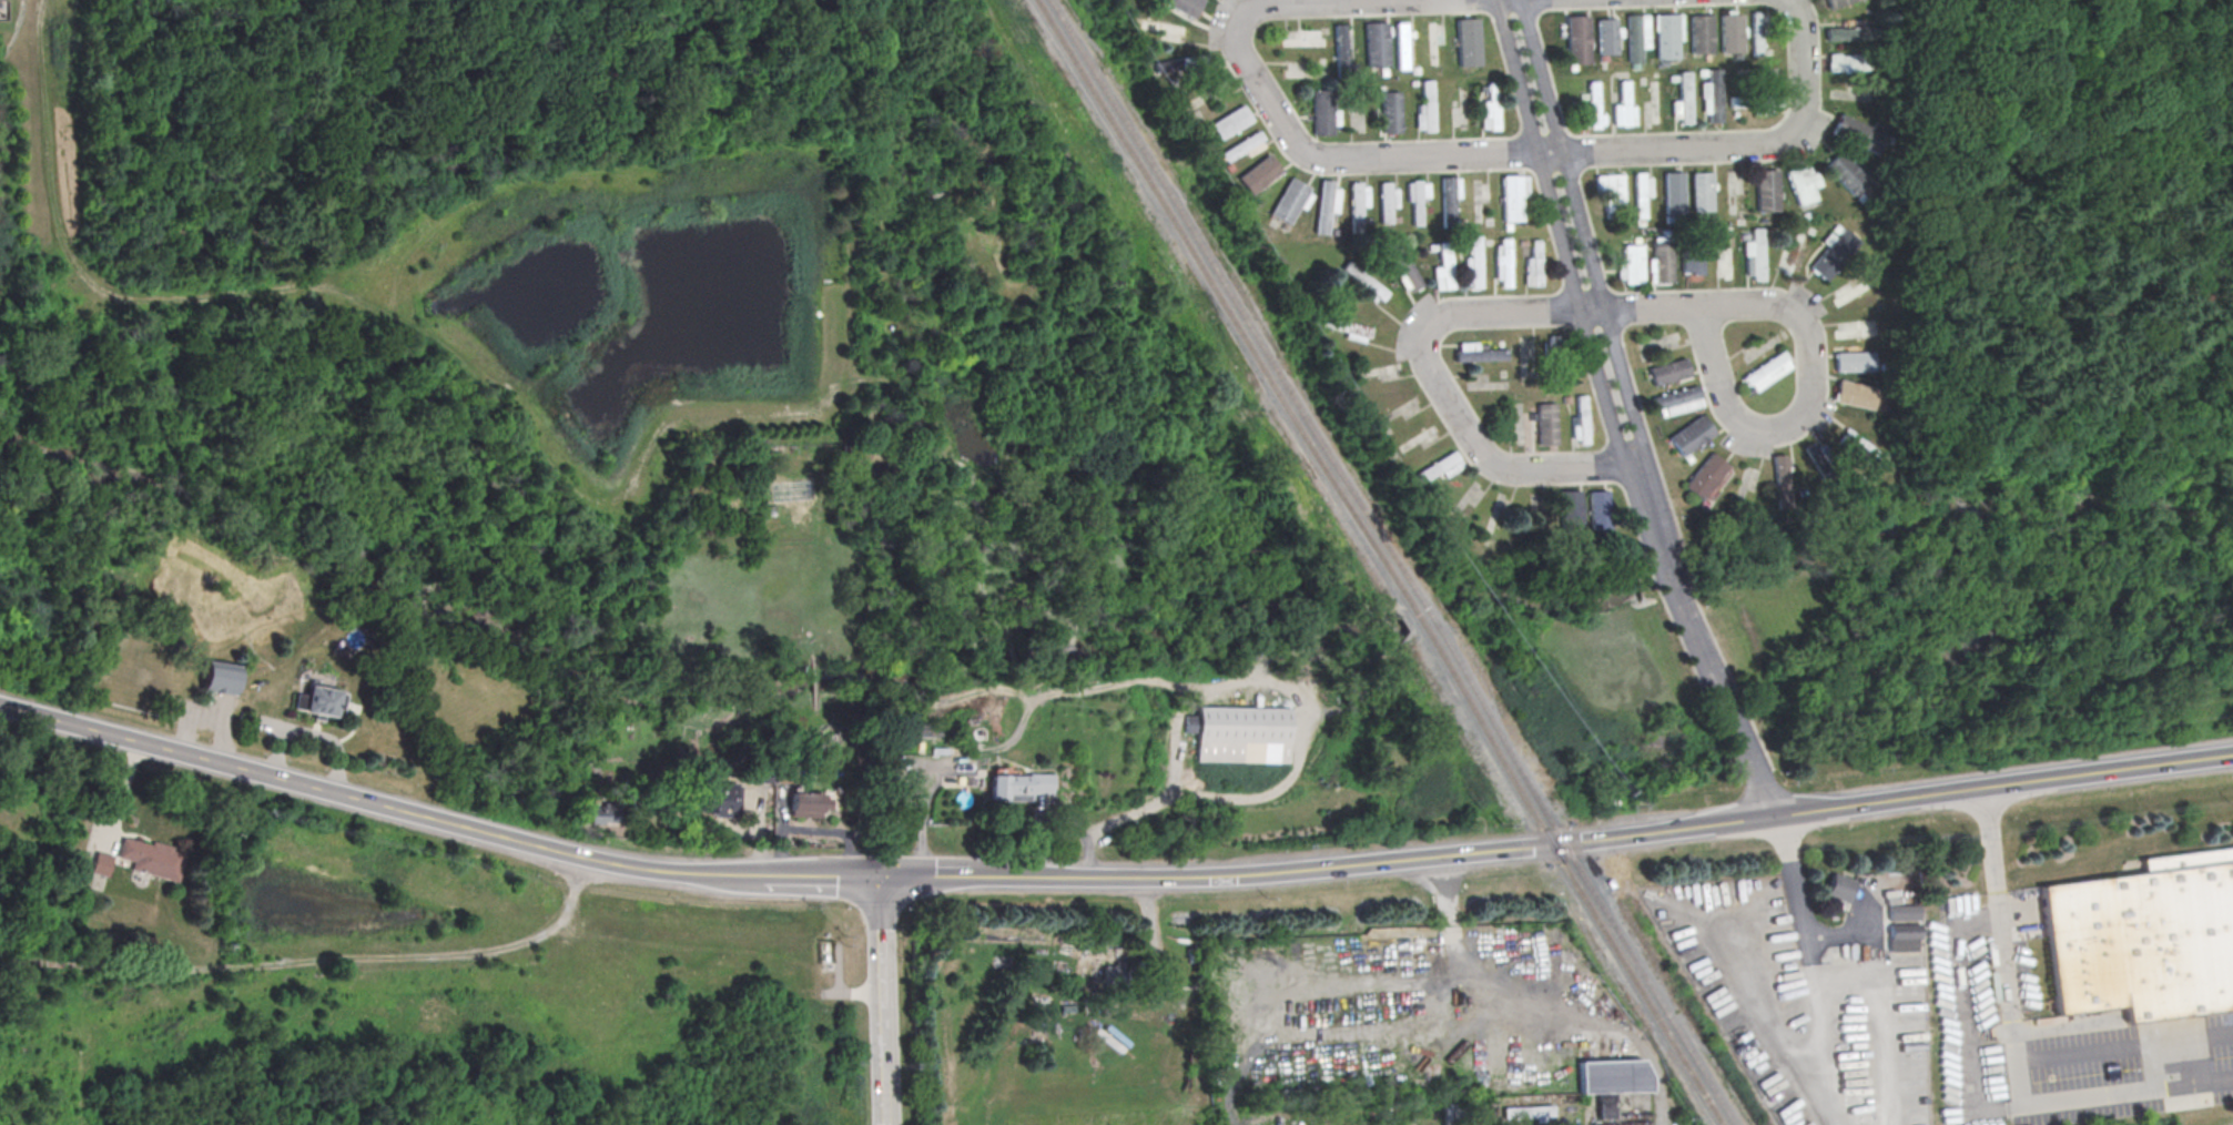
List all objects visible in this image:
building: (1185, 6)
building: (2230, 20)
building: (1158, 28)
building: (1730, 31)
building: (1757, 33)
building: (1843, 33)
building: (1701, 34)
building: (1636, 36)
building: (1607, 37)
building: (1666, 37)
building: (1303, 39)
building: (1577, 39)
building: (1463, 41)
building: (1376, 44)
building: (1432, 44)
building: (1339, 45)
building: (1401, 45)
building: (1841, 62)
building: (1179, 63)
building: (1299, 71)
building: (1755, 71)
building: (1713, 95)
building: (1683, 100)
building: (1753, 103)
building: (1593, 104)
building: (1623, 105)
building: (1490, 108)
building: (1424, 109)
building: (1321, 112)
building: (1389, 112)
building: (1228, 122)
building: (1857, 133)
road: (1303, 144)
road: (1742, 150)
building: (1846, 173)
building: (1257, 174)
building: (1803, 185)
building: (1767, 190)
building: (1612, 192)
building: (1702, 192)
building: (1641, 193)
building: (1674, 193)
building: (1479, 197)
building: (1514, 197)
building: (1449, 199)
building: (1290, 201)
building: (1417, 202)
building: (1387, 203)
building: (1324, 204)
building: (1357, 205)
road: (1591, 235)
road: (1564, 240)
building: (1834, 254)
building: (1755, 255)
building: (1693, 260)
building: (1473, 261)
building: (1661, 261)
building: (1726, 261)
building: (1502, 262)
building: (1533, 262)
building: (1631, 264)
building: (1403, 266)
building: (1443, 268)
building: (1363, 282)
building: (1853, 291)
road: (1650, 312)
road: (1806, 320)
building: (1348, 328)
building: (1855, 330)
building: (1557, 345)
building: (1478, 353)
building: (1856, 361)
building: (1379, 369)
building: (1669, 372)
building: (1767, 372)
building: (1855, 394)
road: (1454, 398)
building: (1677, 401)
building: (1581, 420)
building: (1545, 424)
building: (1689, 435)
building: (1418, 439)
building: (1858, 448)
building: (1440, 467)
building: (1778, 478)
building: (1533, 508)
building: (1597, 509)
building: (1567, 510)
railway: (1379, 561)
railway: (1393, 561)
building: (112, 641)
road: (1697, 647)
building: (217, 677)
building: (317, 700)
building: (1241, 736)
road: (134, 742)
building: (1017, 788)
road: (122, 799)
building: (719, 800)
building: (806, 805)
road: (1605, 837)
road: (569, 854)
building: (152, 860)
building: (101, 864)
traffic signals: (879, 876)
road: (927, 876)
road: (1788, 880)
building: (1838, 888)
building: (1902, 928)
building: (2144, 937)
road: (881, 942)
road: (1456, 951)
building: (1110, 971)
road: (884, 1026)
road: (2014, 1052)
road: (2124, 1053)
building: (1611, 1081)
road: (886, 1085)
building: (1526, 1113)

